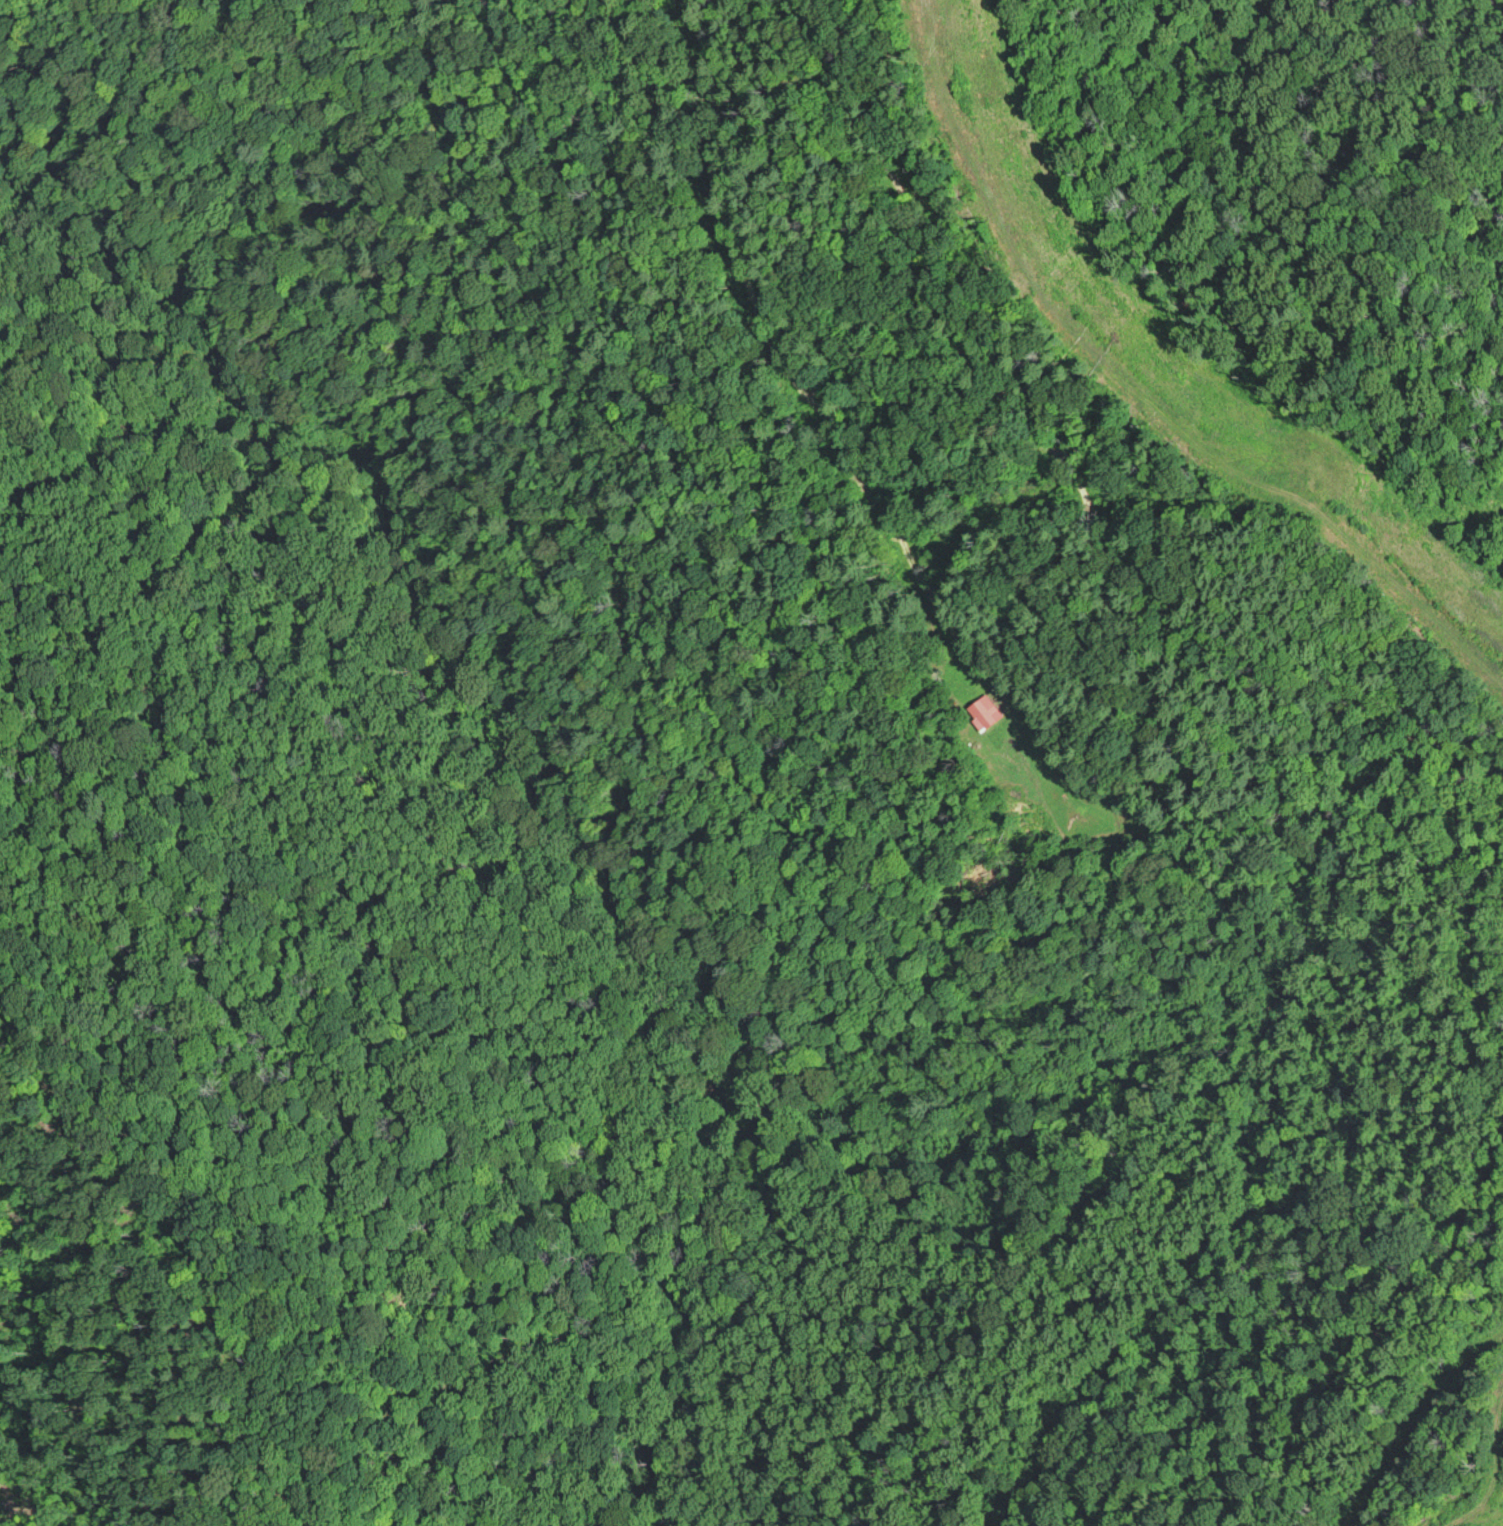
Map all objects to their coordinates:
road: (1079, 488)
road: (1121, 596)
building: (982, 711)
road: (1490, 1004)
road: (1446, 1317)
road: (1355, 1359)

